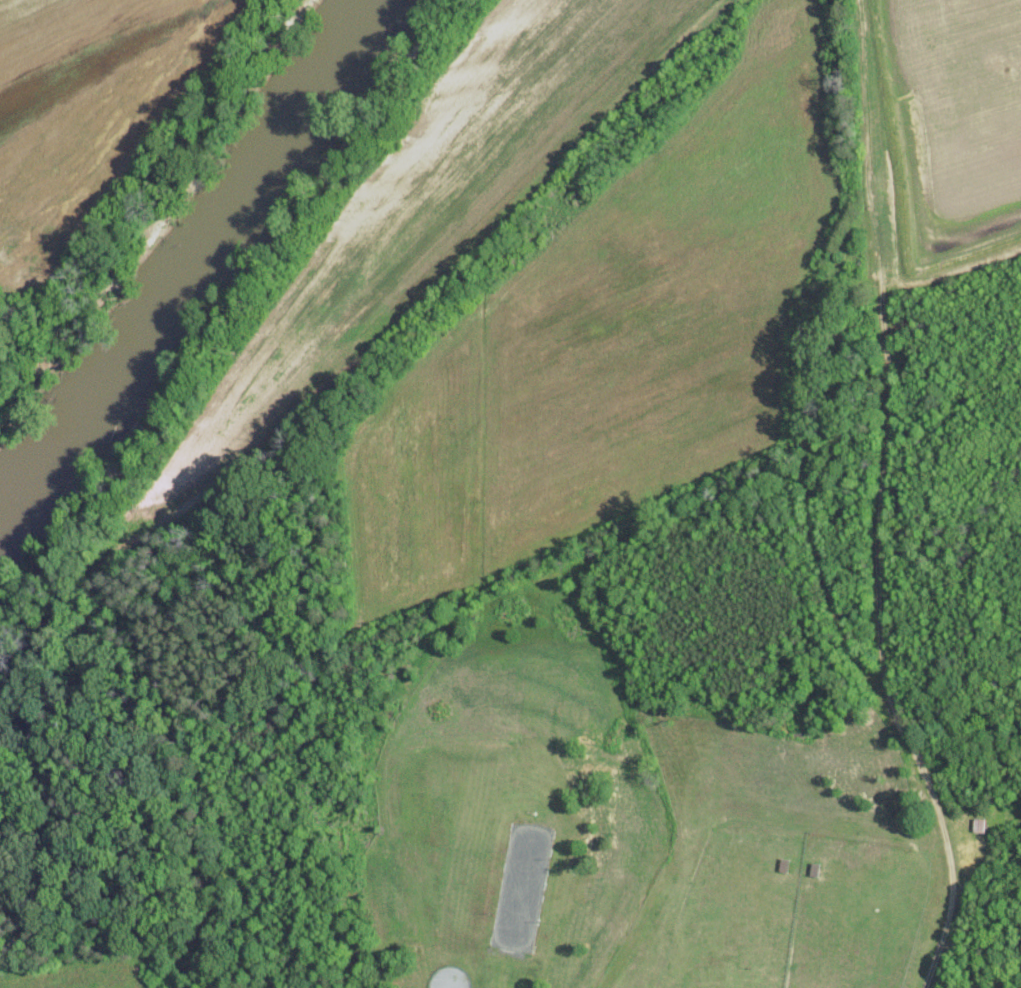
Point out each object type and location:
river: (184, 246)

